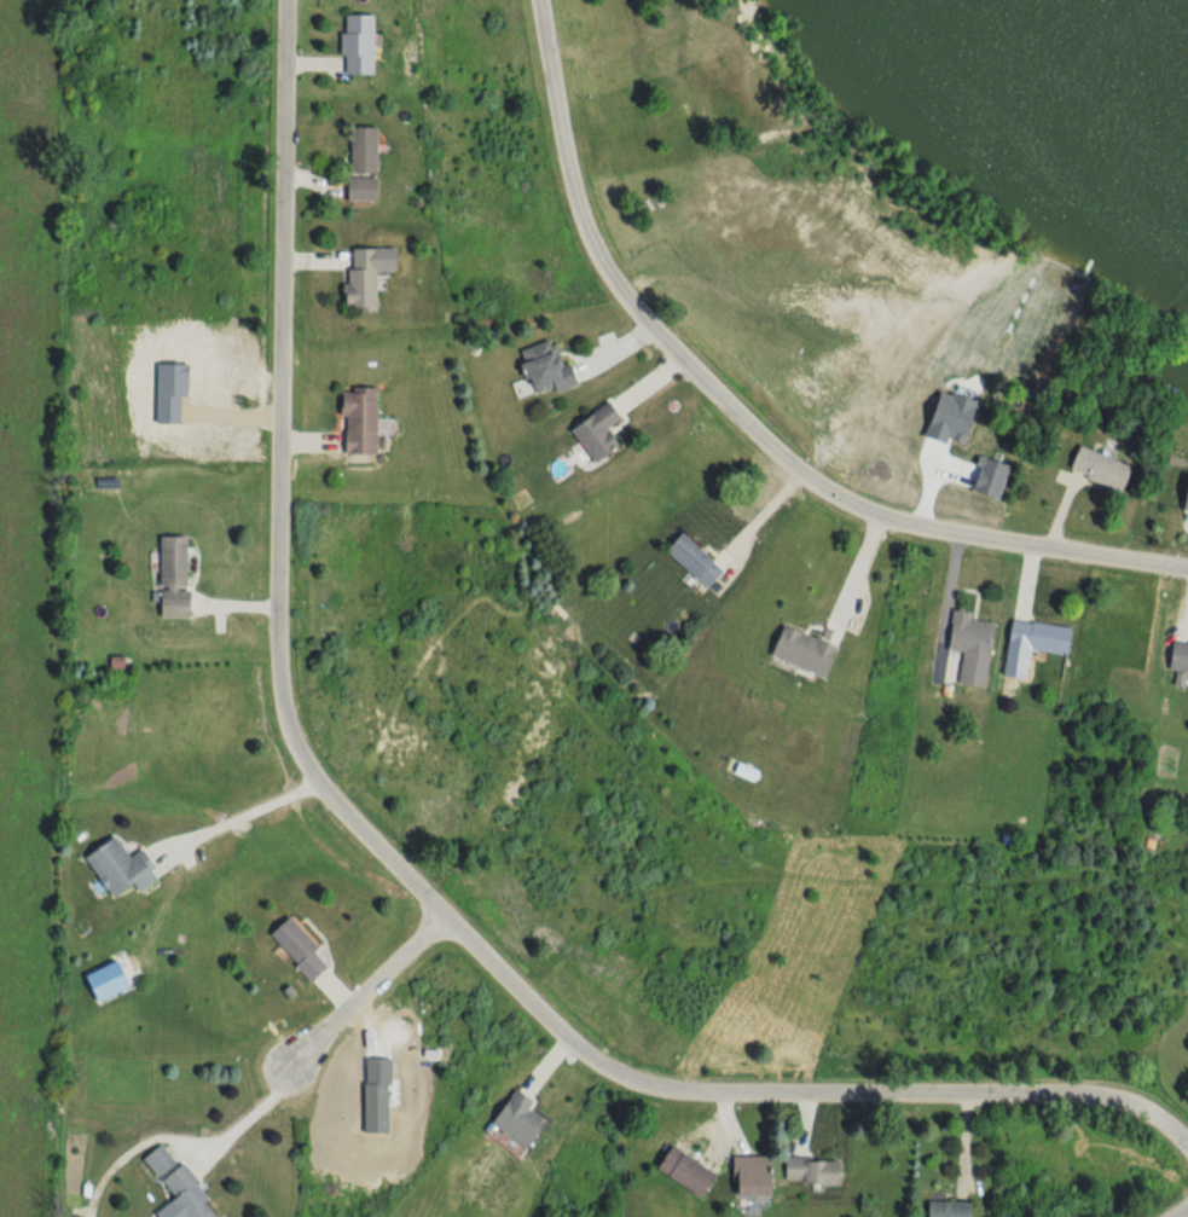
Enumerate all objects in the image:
building: (350, 44)
building: (357, 150)
building: (354, 189)
building: (354, 280)
building: (538, 369)
road: (742, 418)
building: (352, 421)
building: (590, 433)
building: (1086, 470)
building: (1178, 499)
building: (688, 561)
road: (854, 569)
building: (166, 579)
building: (1033, 636)
building: (964, 648)
building: (794, 651)
building: (1175, 657)
road: (233, 818)
road: (389, 859)
building: (112, 869)
building: (291, 949)
road: (363, 995)
building: (511, 1119)
road: (239, 1123)
building: (152, 1160)
building: (676, 1171)
building: (806, 1171)
building: (741, 1175)
building: (178, 1194)
building: (940, 1209)
road: (1180, 1211)

